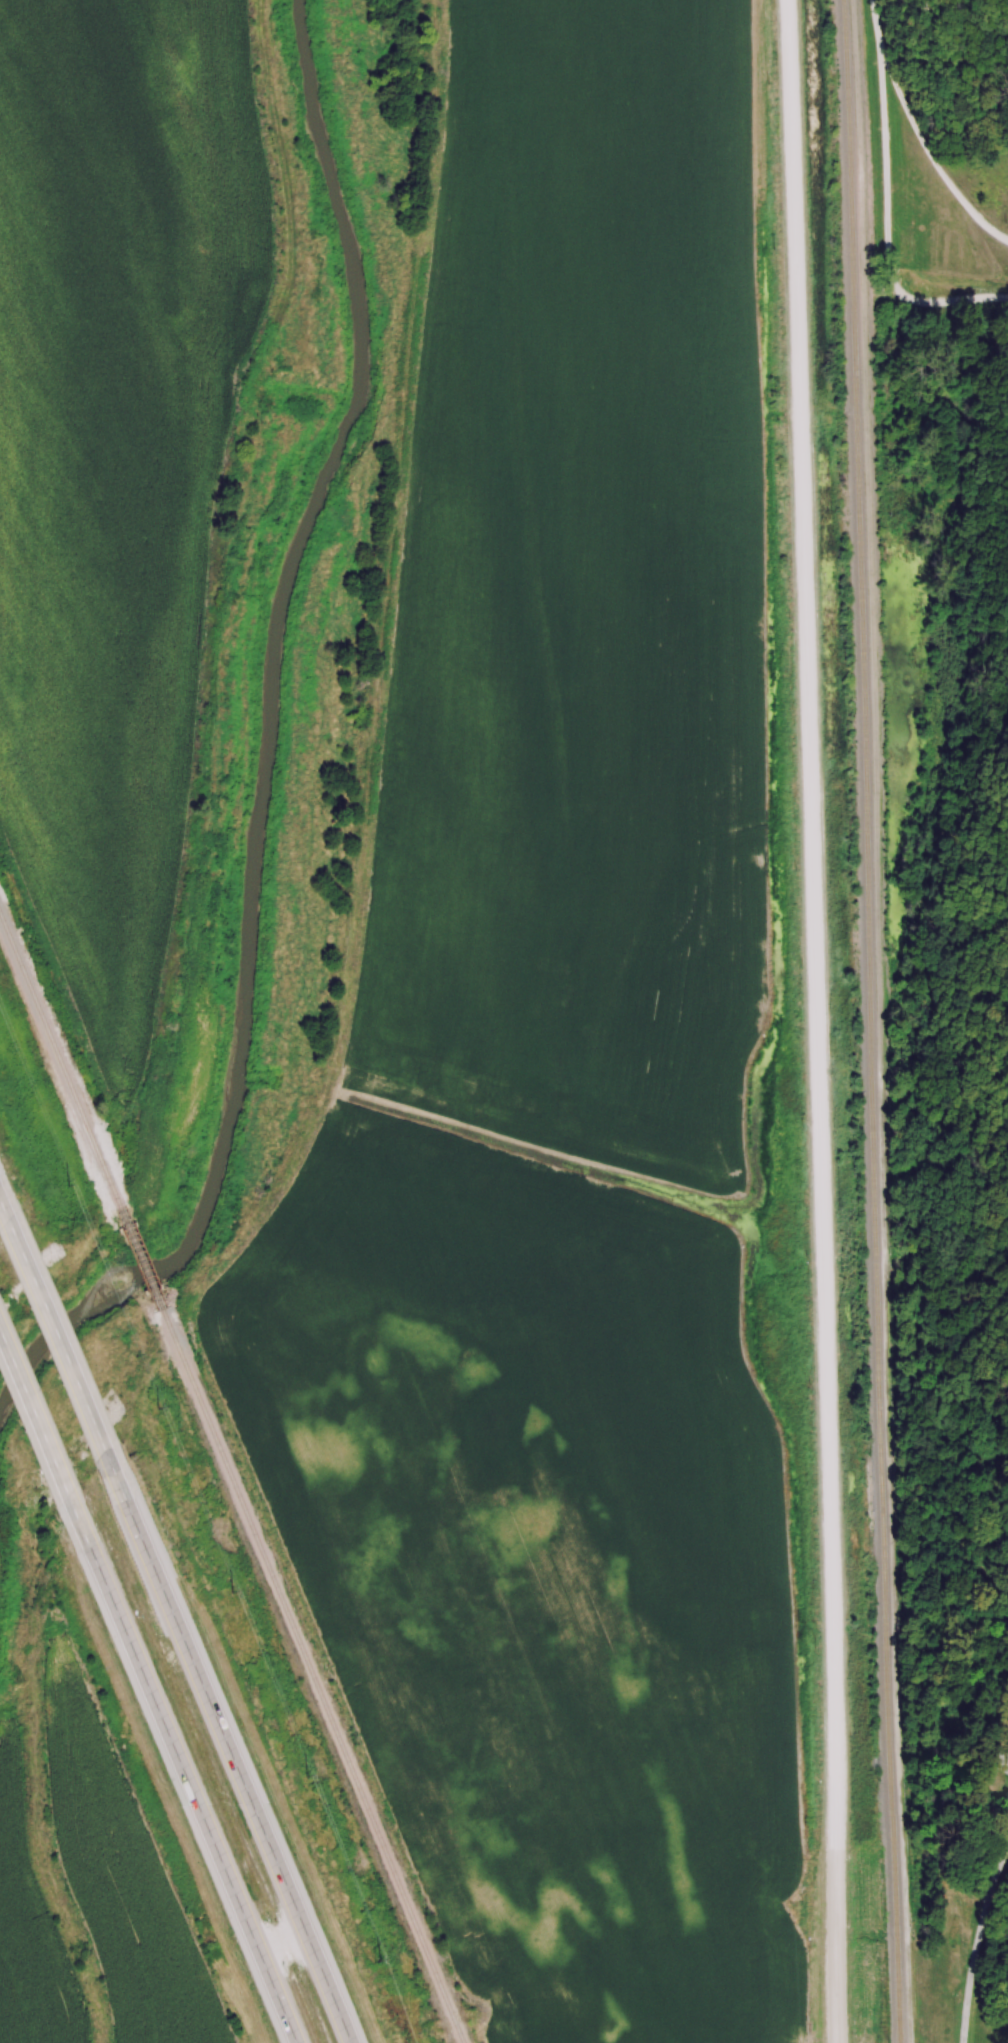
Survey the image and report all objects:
road: (931, 146)
road: (887, 201)
river: (269, 744)
road: (817, 1021)
railway: (871, 1021)
railway: (62, 1060)
road: (4, 1209)
railway: (147, 1262)
road: (61, 1338)
road: (36, 1420)
railway: (316, 1678)
road: (232, 1750)
road: (184, 1775)
road: (976, 1942)

